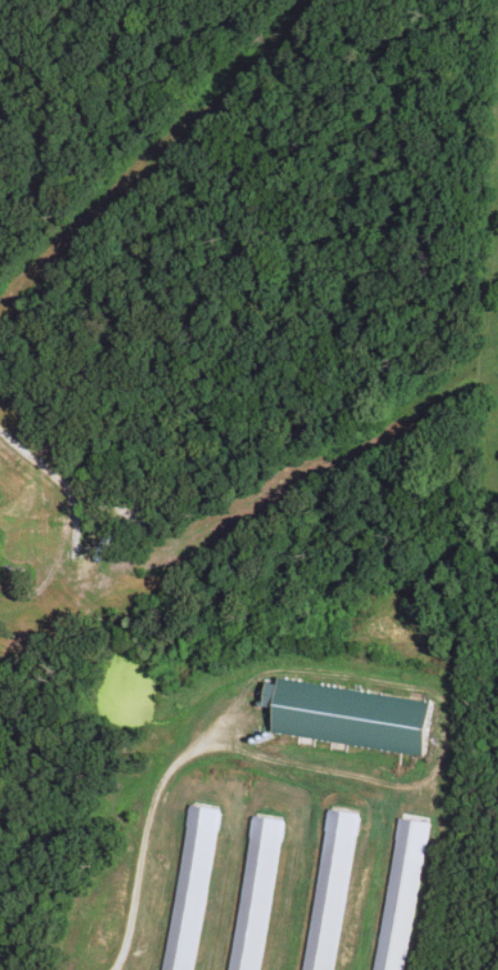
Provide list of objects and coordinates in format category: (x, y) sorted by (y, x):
building: (349, 717)
building: (189, 889)
building: (327, 891)
building: (253, 894)
building: (397, 897)

